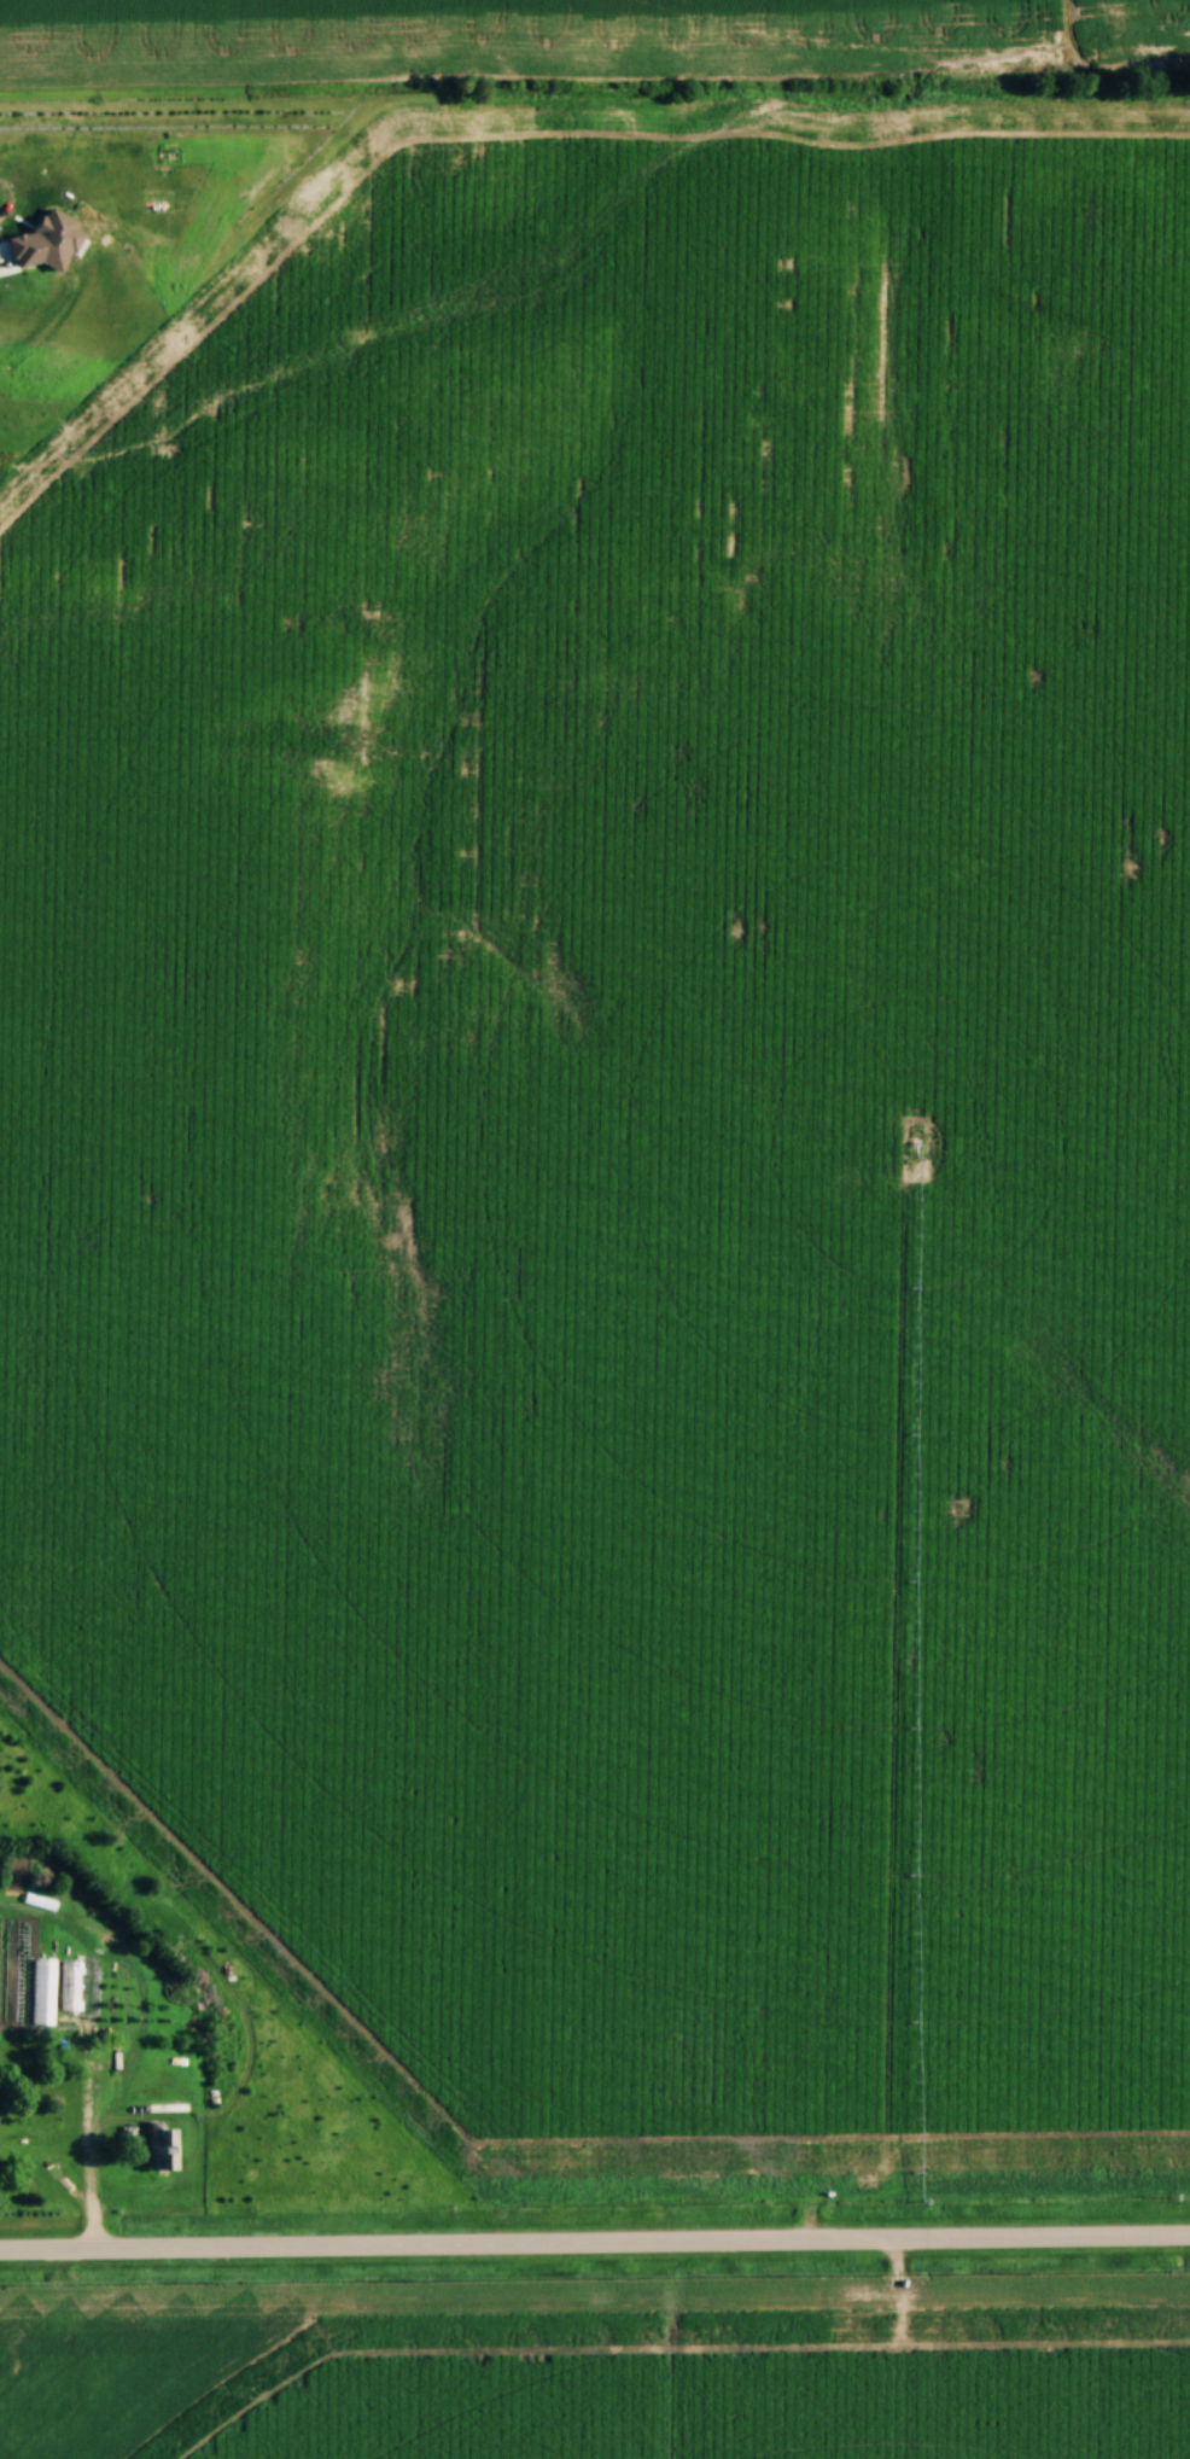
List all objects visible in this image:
building: (162, 2149)
road: (594, 2243)

